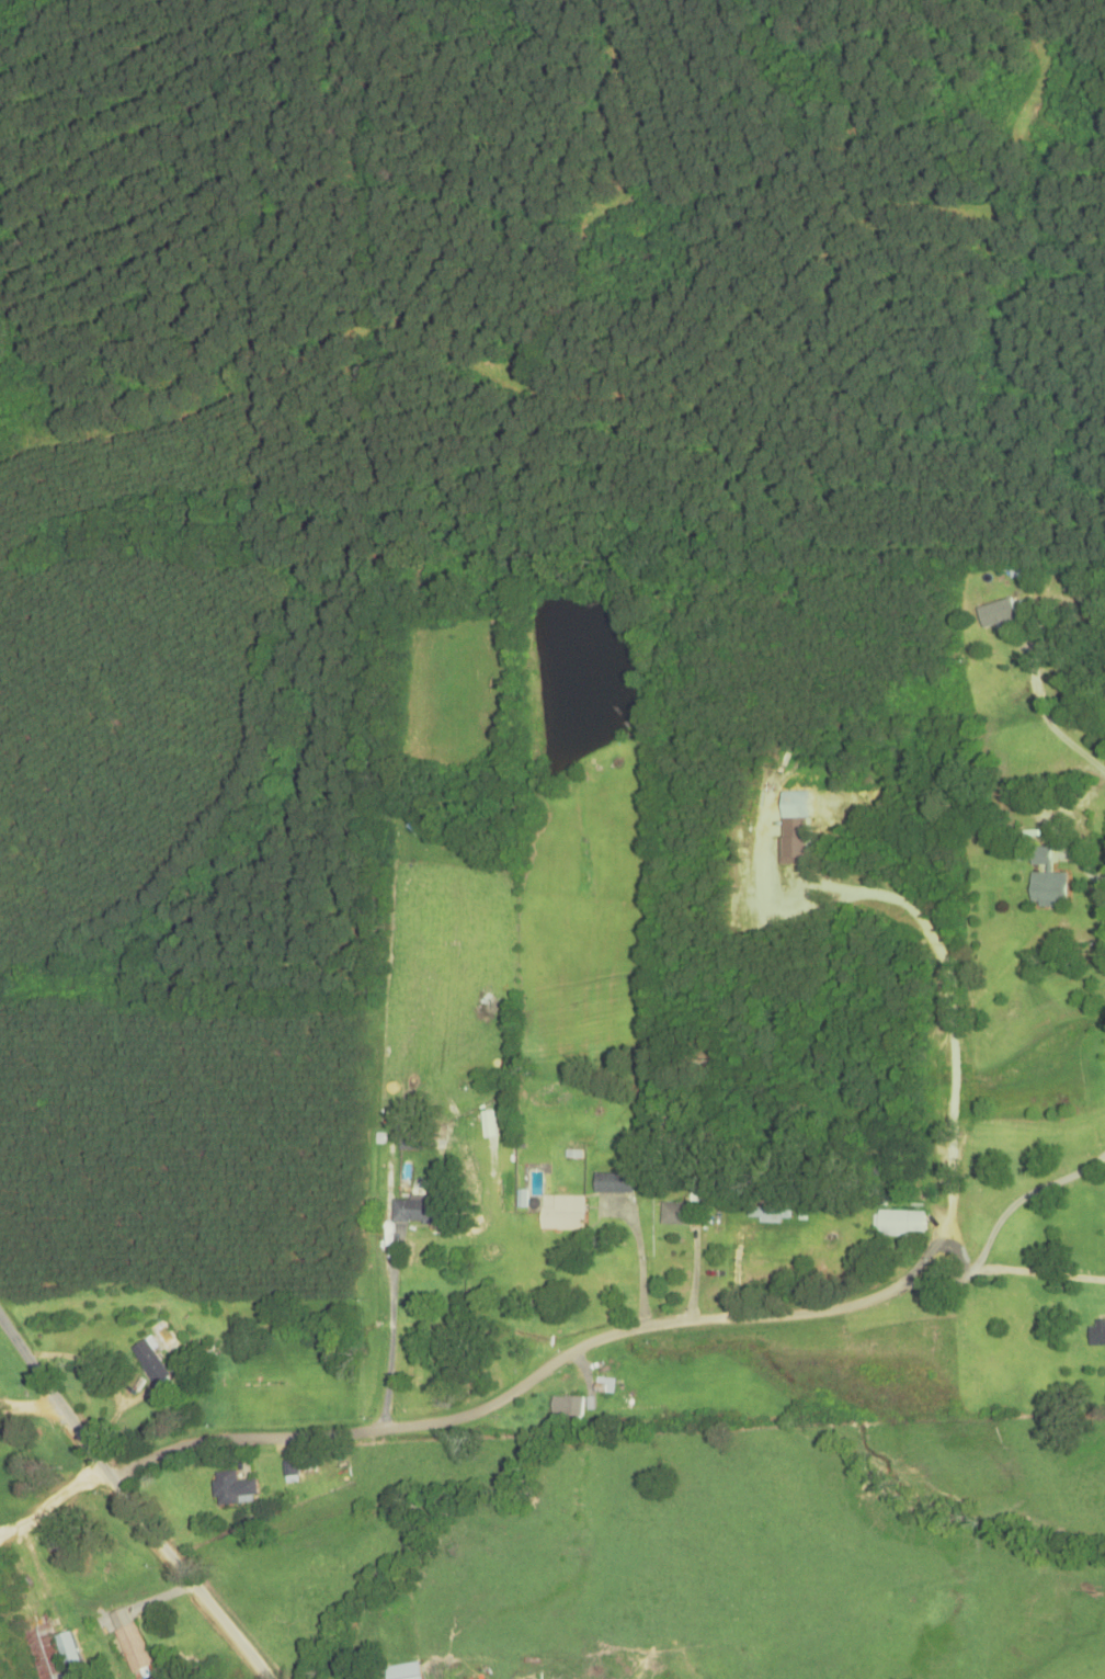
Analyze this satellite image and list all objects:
building: (995, 613)
building: (1045, 881)
building: (410, 1141)
building: (884, 1176)
building: (613, 1183)
building: (415, 1212)
building: (561, 1213)
building: (768, 1214)
building: (680, 1215)
building: (899, 1223)
building: (1096, 1334)
building: (149, 1362)
road: (529, 1381)
building: (603, 1386)
building: (565, 1410)
building: (293, 1468)
building: (231, 1490)
road: (128, 1502)
building: (128, 1641)

